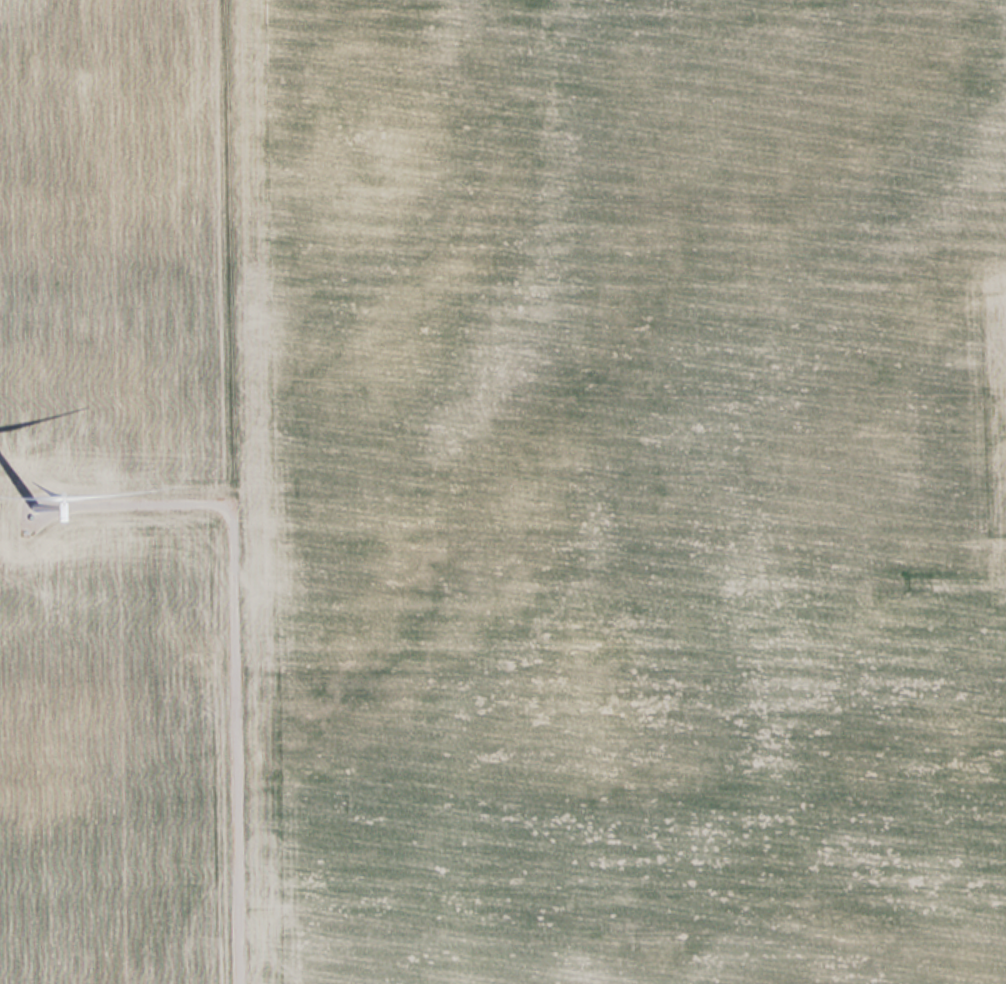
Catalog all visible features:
wind turbine: (11, 507)
road: (234, 665)

